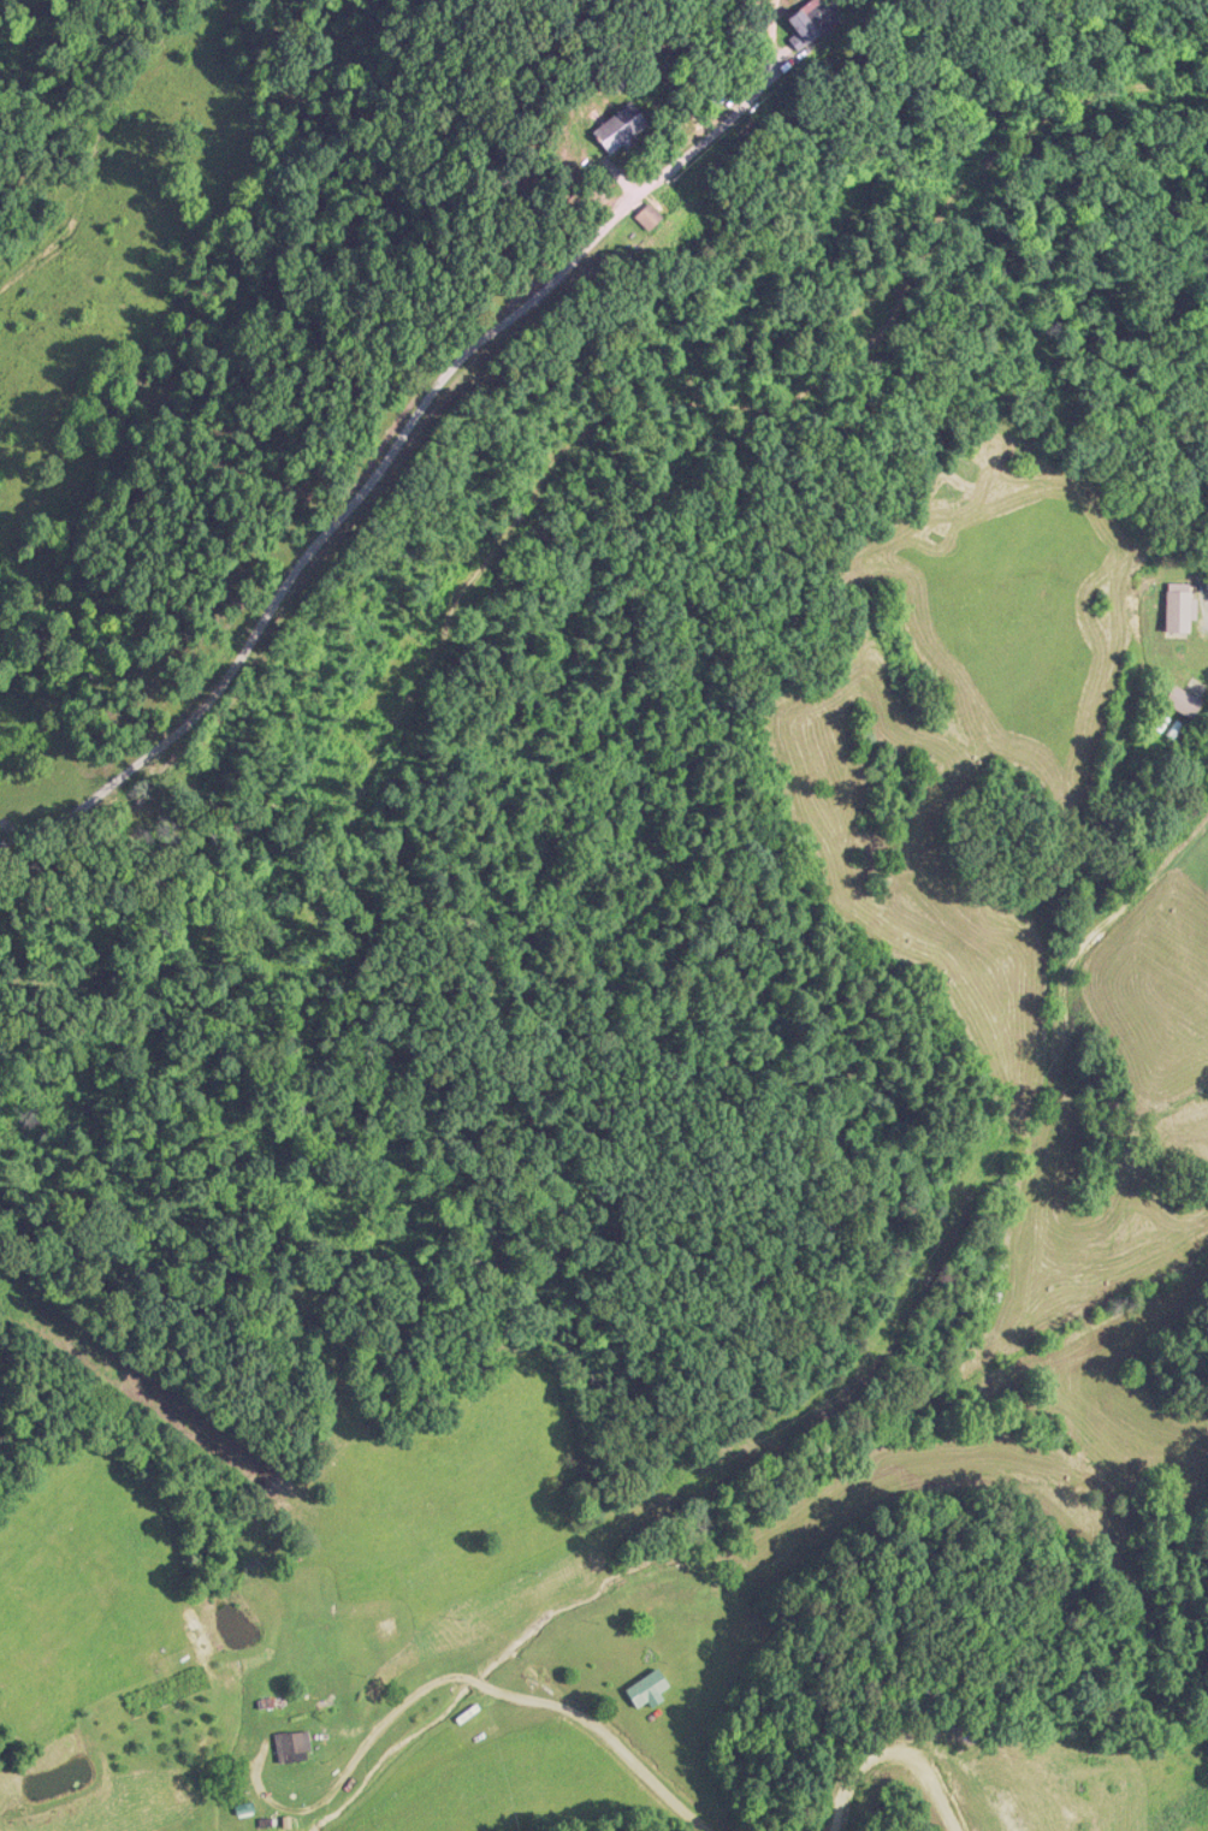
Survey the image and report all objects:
building: (620, 125)
building: (647, 215)
road: (410, 433)
building: (1180, 605)
building: (1182, 699)
road: (892, 1512)
building: (649, 1678)
building: (294, 1744)

